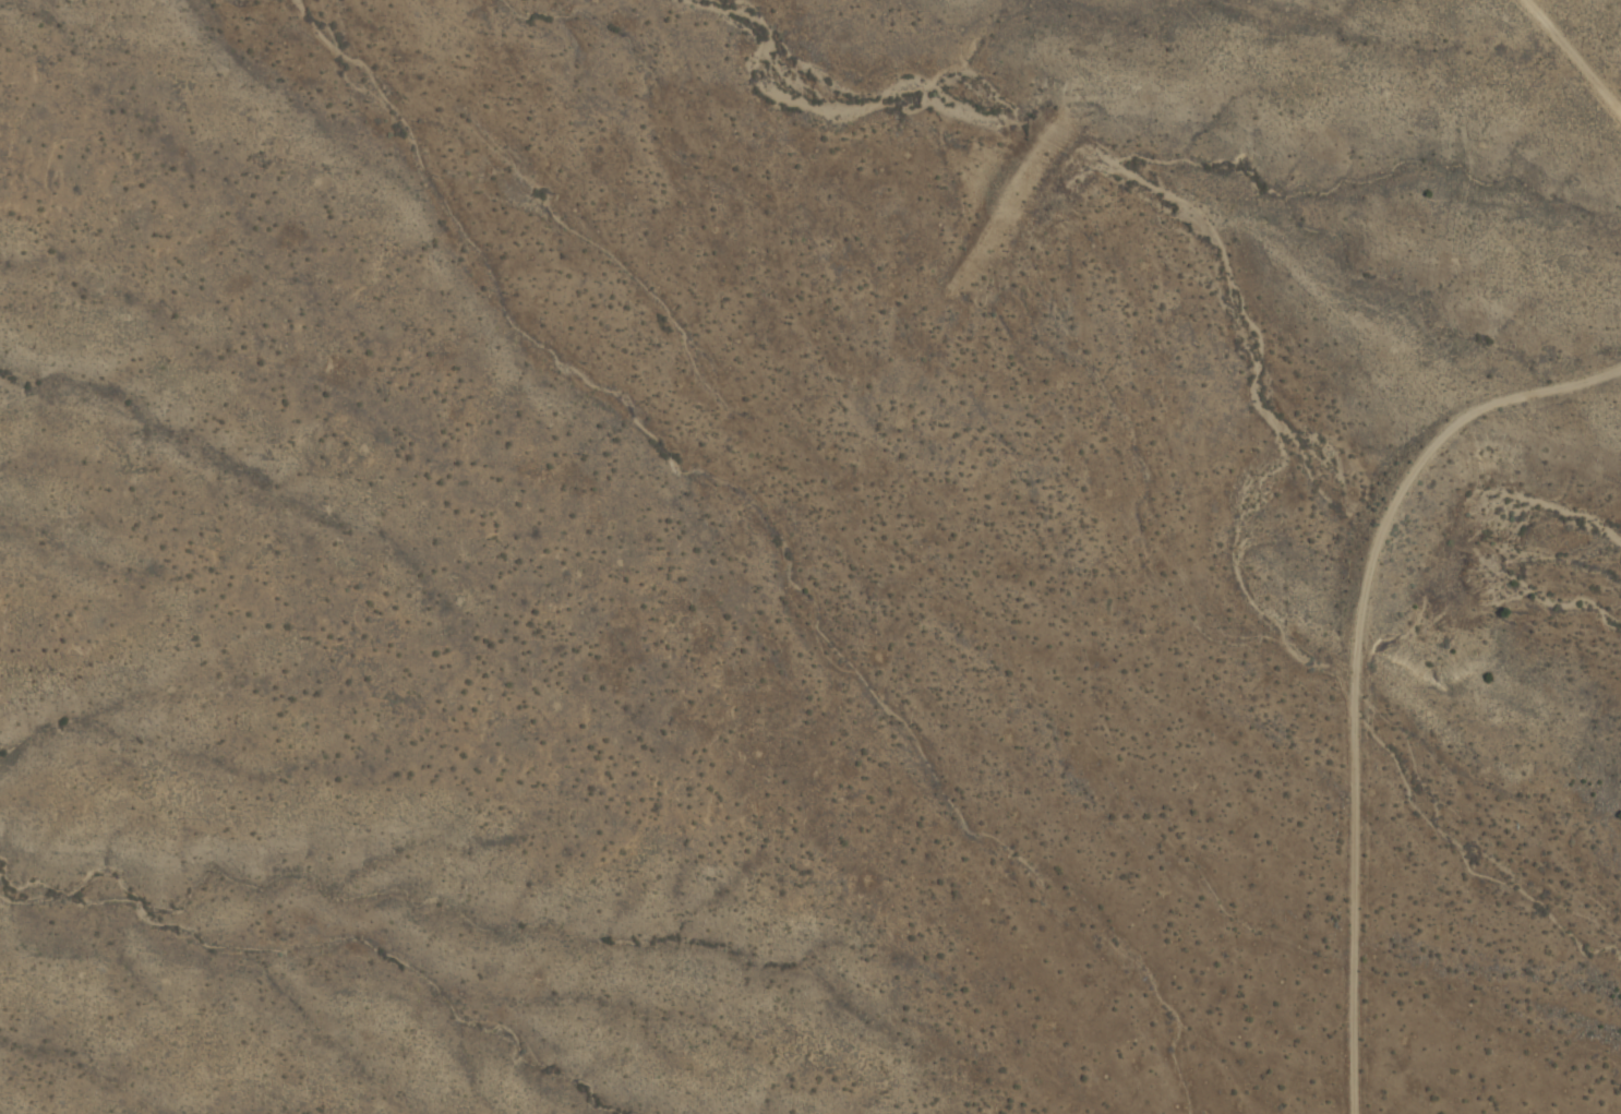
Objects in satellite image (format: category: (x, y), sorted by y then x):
road: (1574, 53)
road: (1356, 662)

